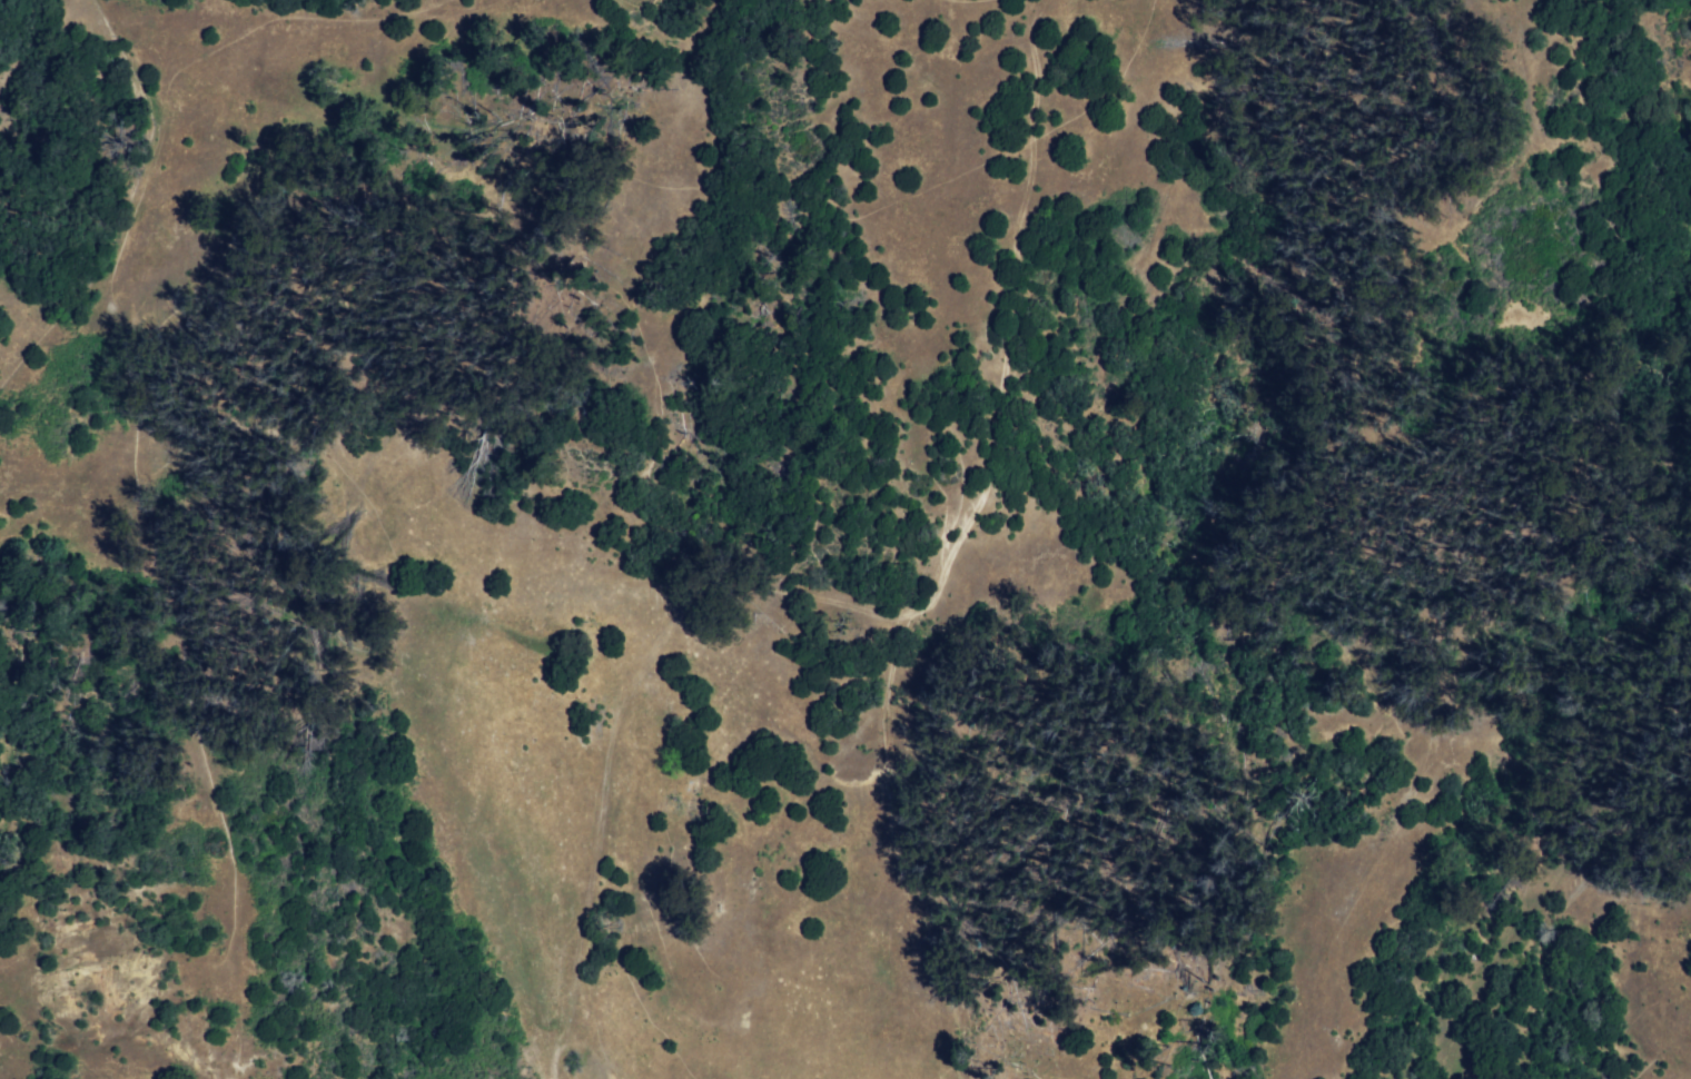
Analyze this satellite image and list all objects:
building: (65, 726)

